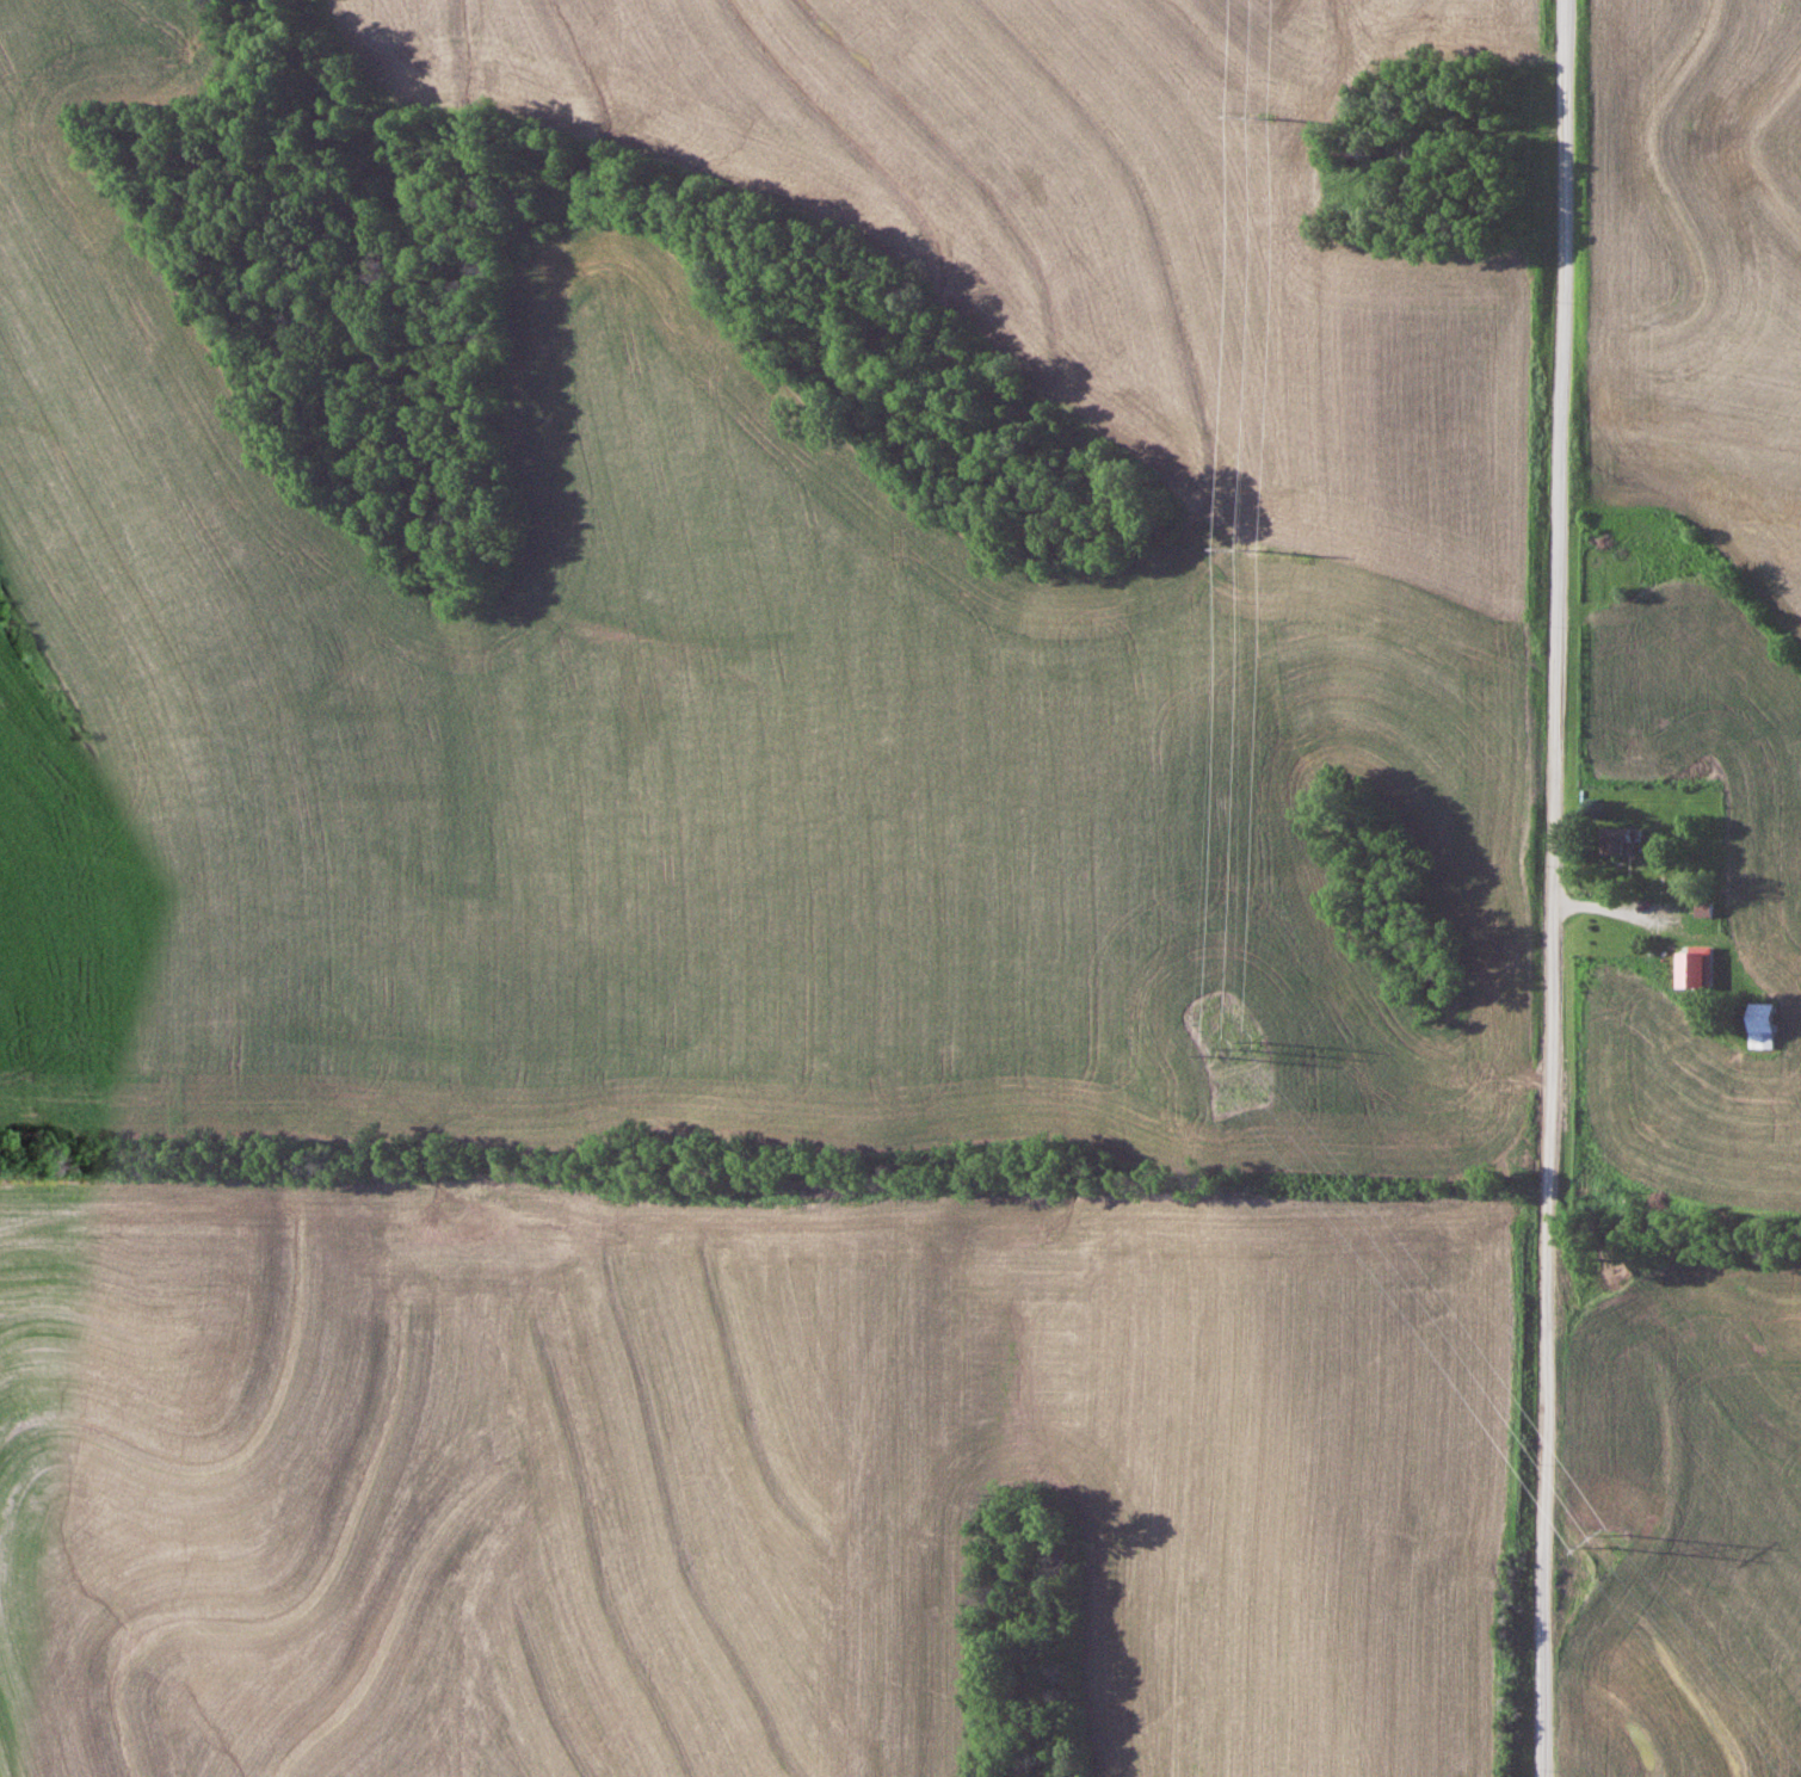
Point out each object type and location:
power tower: (1251, 124)
power tower: (1239, 553)
building: (1621, 840)
road: (1554, 888)
building: (1706, 907)
building: (1690, 965)
building: (1765, 1024)
power tower: (1232, 1053)
power tower: (1605, 1547)

